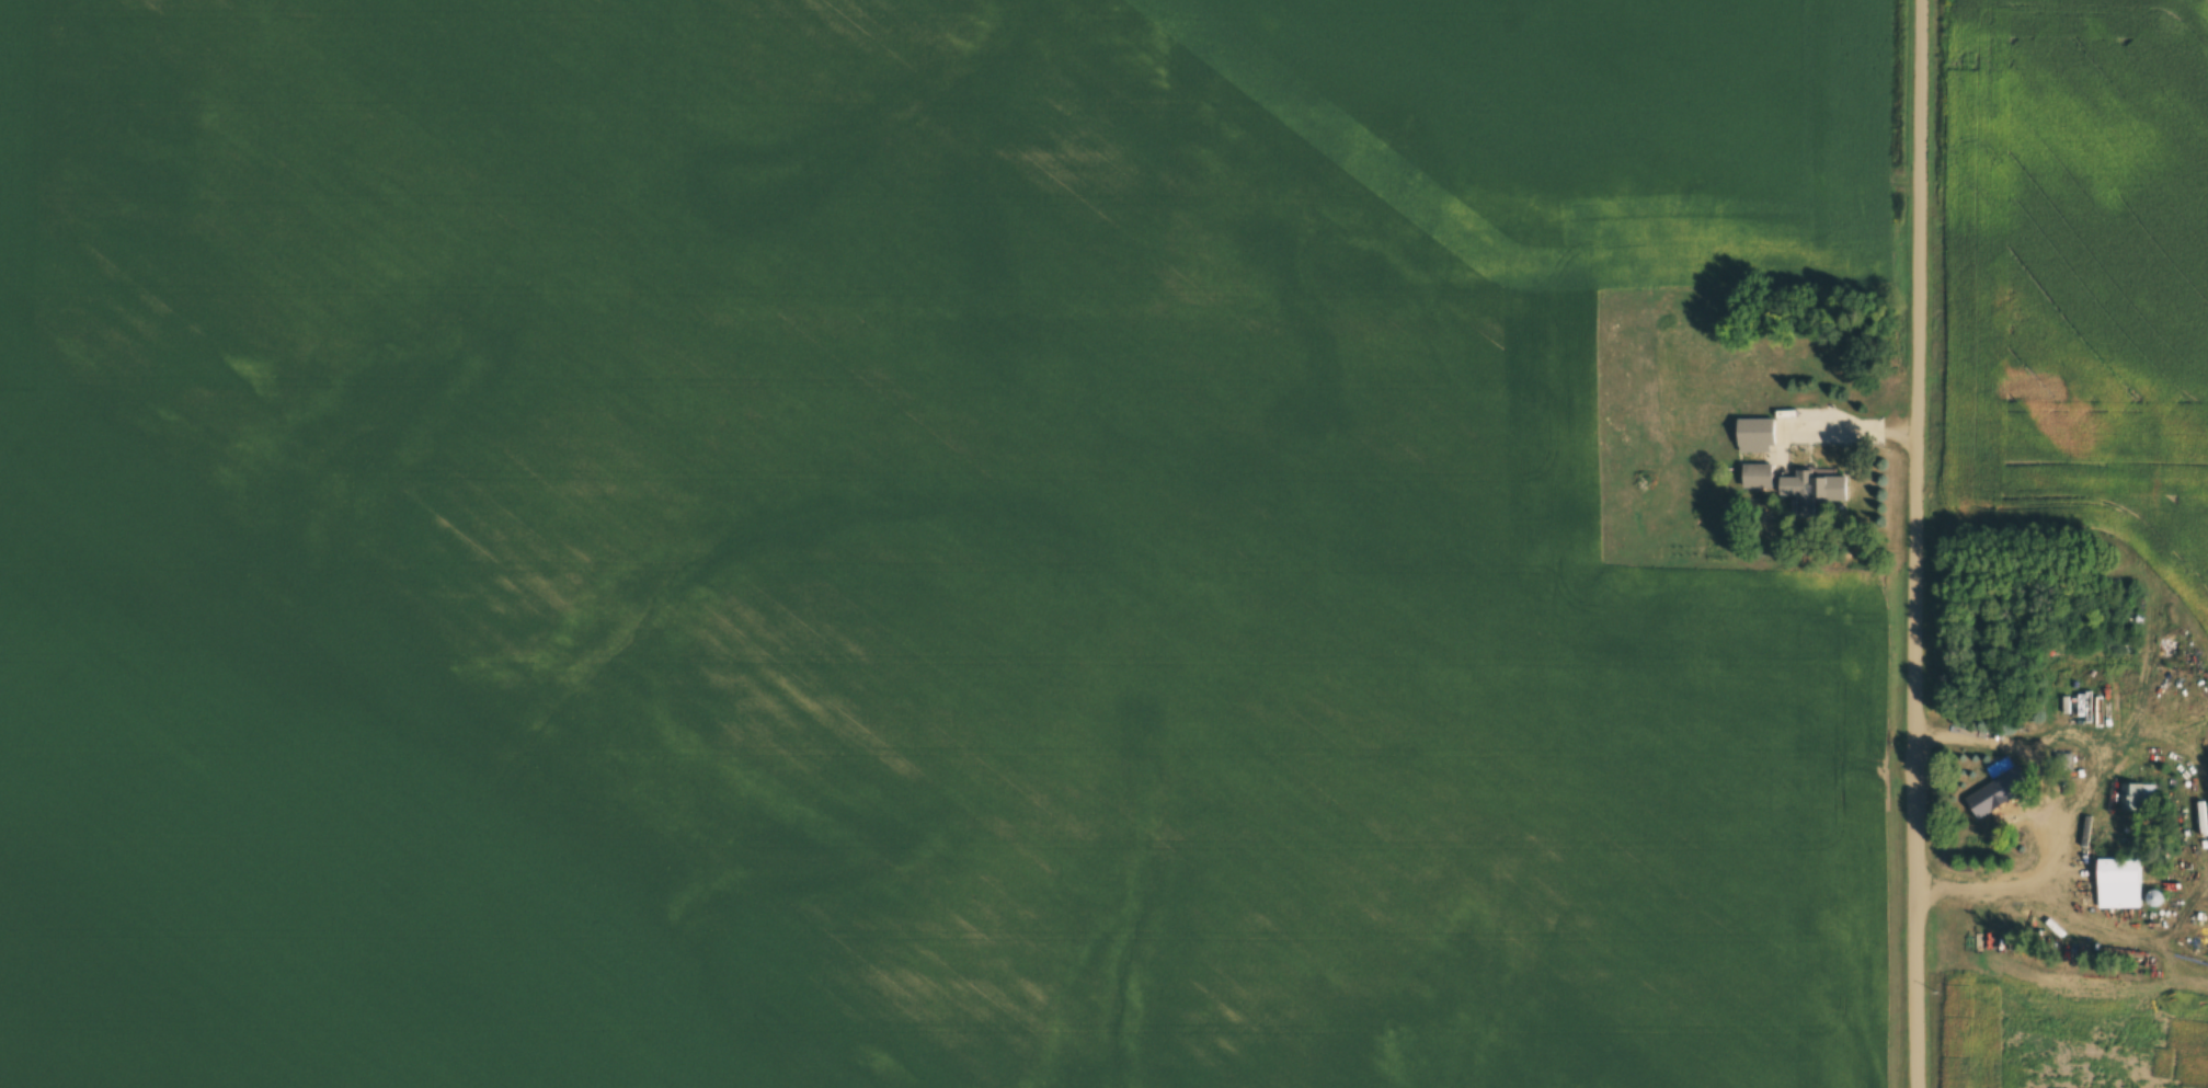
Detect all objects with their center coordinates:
building: (1846, 353)
building: (1749, 379)
road: (1853, 430)
building: (1754, 434)
building: (1755, 474)
building: (1812, 488)
road: (1920, 543)
building: (2086, 692)
road: (2093, 783)
building: (1997, 791)
building: (2137, 795)
building: (2118, 882)

